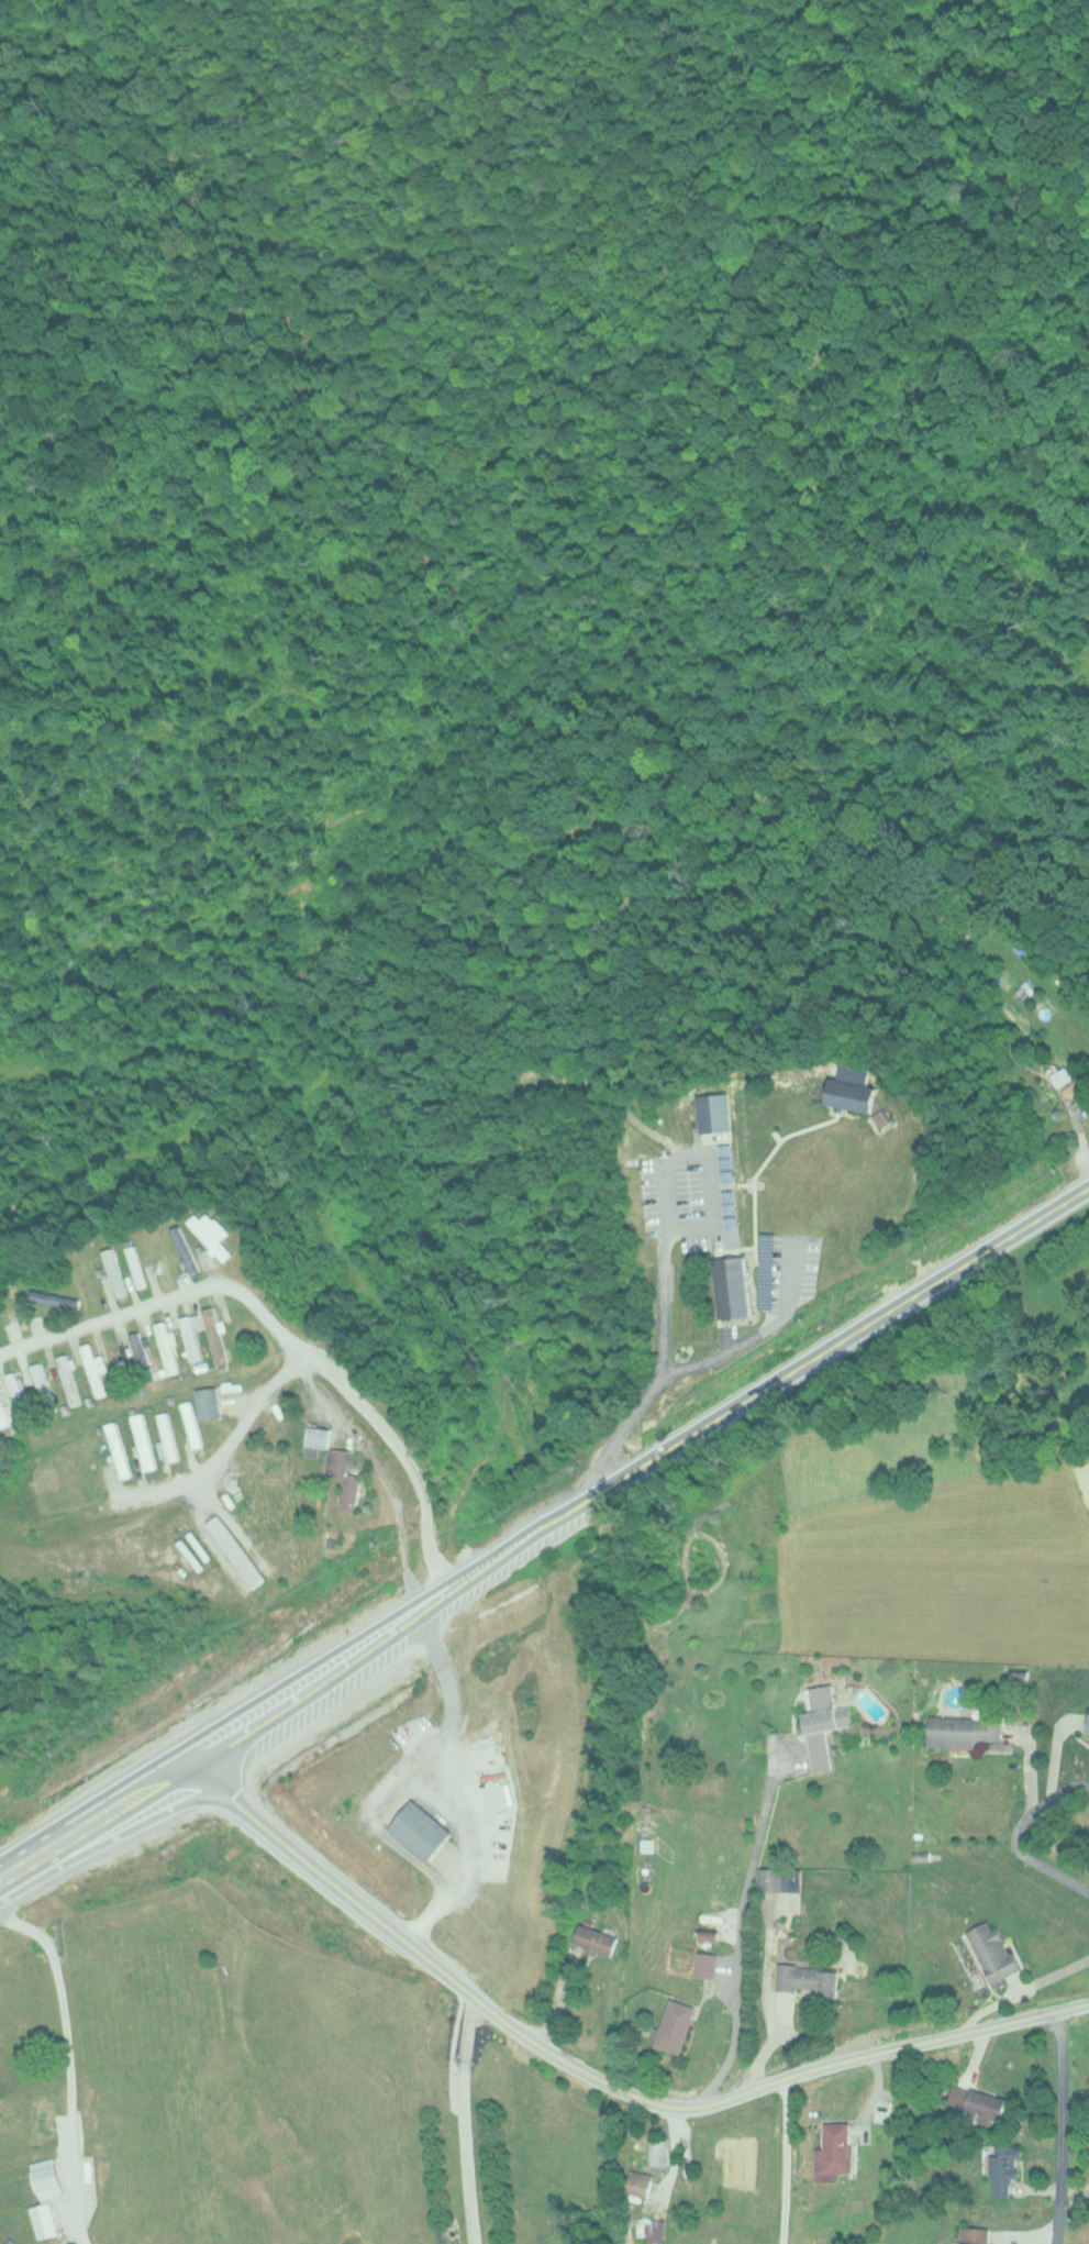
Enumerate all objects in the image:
building: (570, 837)
road: (827, 1065)
building: (1068, 1082)
building: (853, 1095)
building: (712, 1112)
building: (886, 1116)
road: (368, 1198)
building: (212, 1234)
building: (136, 1265)
building: (114, 1272)
building: (733, 1287)
building: (15, 1305)
road: (280, 1330)
building: (214, 1334)
building: (190, 1336)
building: (165, 1345)
building: (142, 1356)
building: (116, 1358)
road: (699, 1364)
building: (69, 1379)
building: (43, 1384)
building: (20, 1394)
building: (208, 1403)
road: (244, 1416)
building: (190, 1424)
building: (166, 1437)
building: (141, 1441)
building: (116, 1449)
building: (335, 1467)
road: (545, 1524)
building: (233, 1551)
building: (824, 1723)
building: (1088, 1724)
building: (963, 1729)
road: (459, 1779)
building: (421, 1828)
road: (1015, 1835)
building: (770, 1877)
road: (735, 1935)
building: (594, 1939)
building: (993, 1950)
building: (705, 1963)
building: (807, 1978)
building: (675, 2024)
road: (520, 2032)
building: (985, 2108)
building: (44, 2119)
road: (464, 2120)
road: (1060, 2127)
road: (671, 2142)
building: (658, 2149)
building: (833, 2152)
road: (784, 2160)
building: (1003, 2168)
building: (47, 2178)
building: (638, 2185)
building: (651, 2228)
building: (974, 2234)

